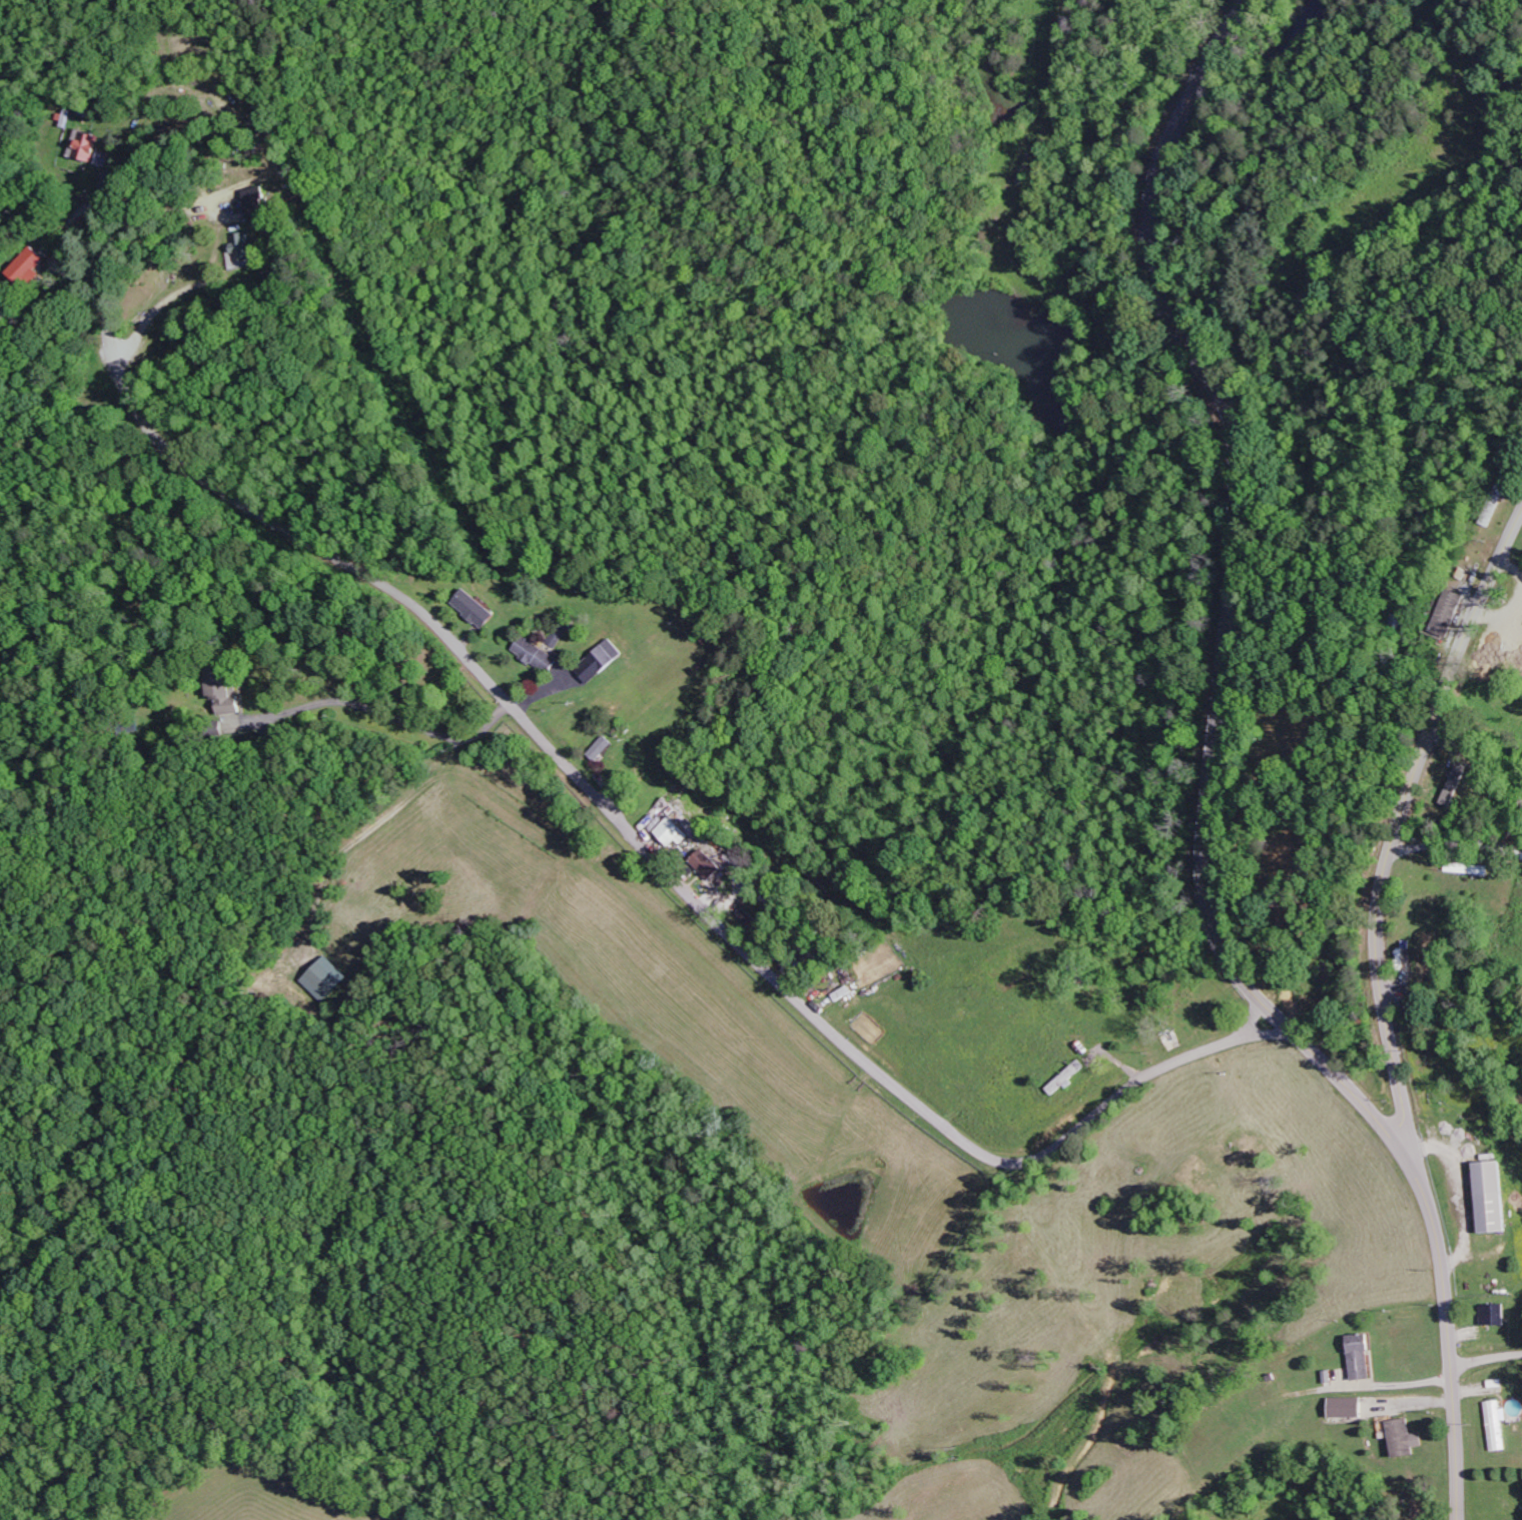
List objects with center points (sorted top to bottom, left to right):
building: (86, 146)
building: (257, 202)
building: (231, 218)
building: (243, 251)
building: (28, 267)
building: (474, 608)
building: (1453, 612)
building: (536, 654)
building: (600, 660)
building: (226, 691)
building: (600, 748)
road: (1213, 778)
building: (1464, 782)
road: (601, 801)
building: (674, 831)
road: (1390, 849)
building: (708, 864)
building: (1470, 868)
building: (325, 979)
building: (1067, 1078)
building: (1494, 1197)
building: (1495, 1314)
building: (1362, 1357)
road: (1487, 1360)
building: (1349, 1407)
building: (1497, 1425)
building: (1404, 1438)

